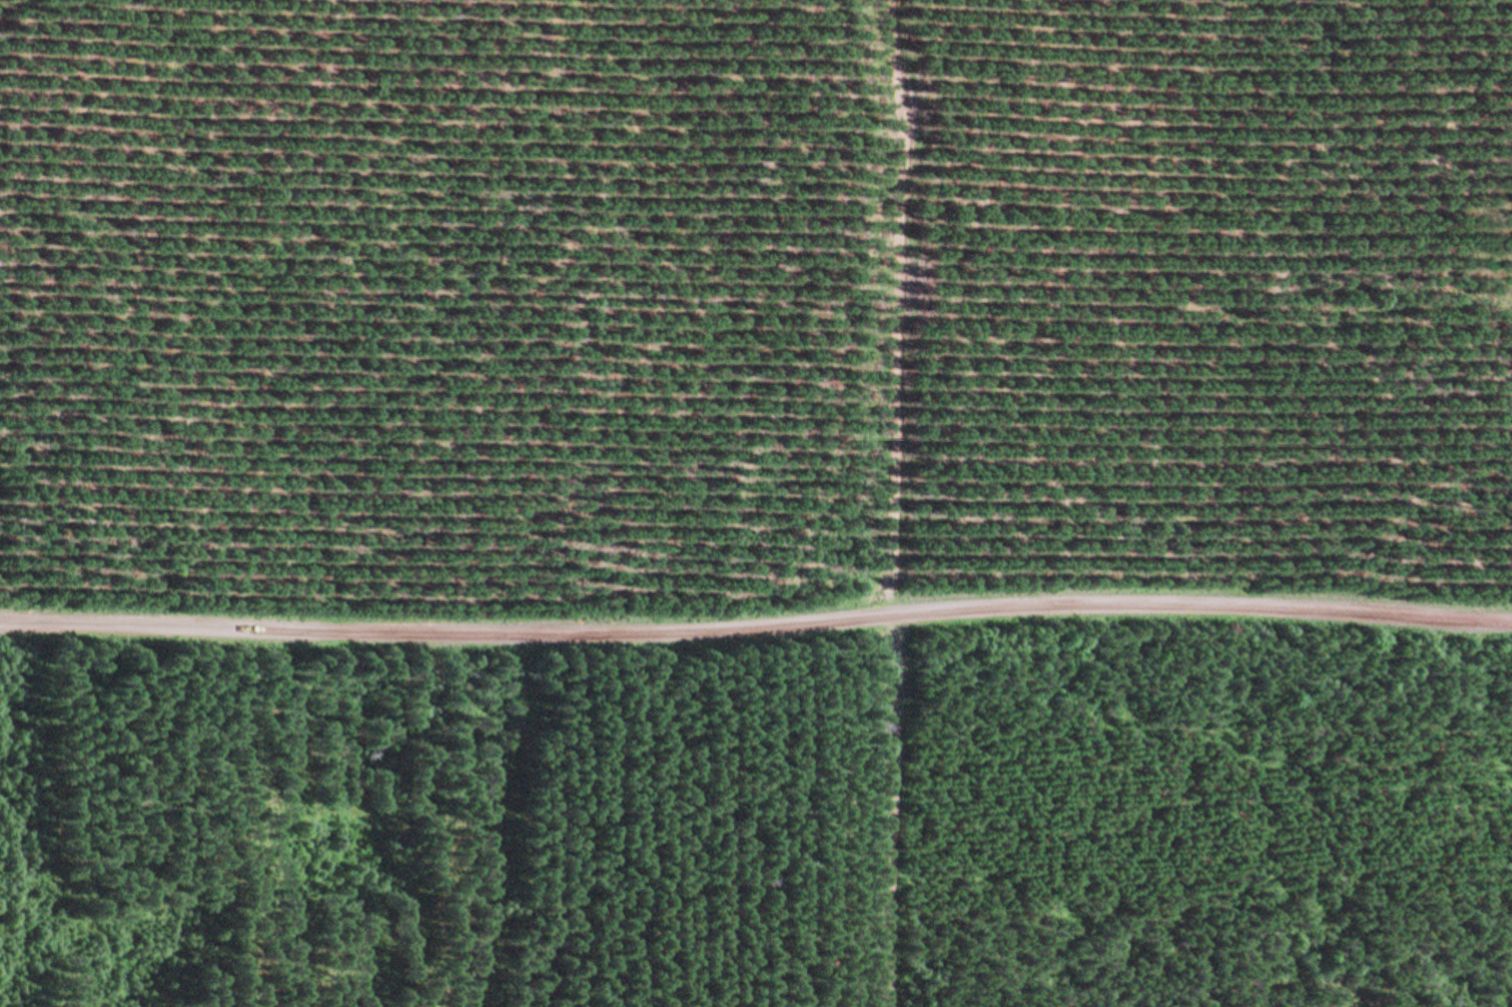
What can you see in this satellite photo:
road: (756, 638)

